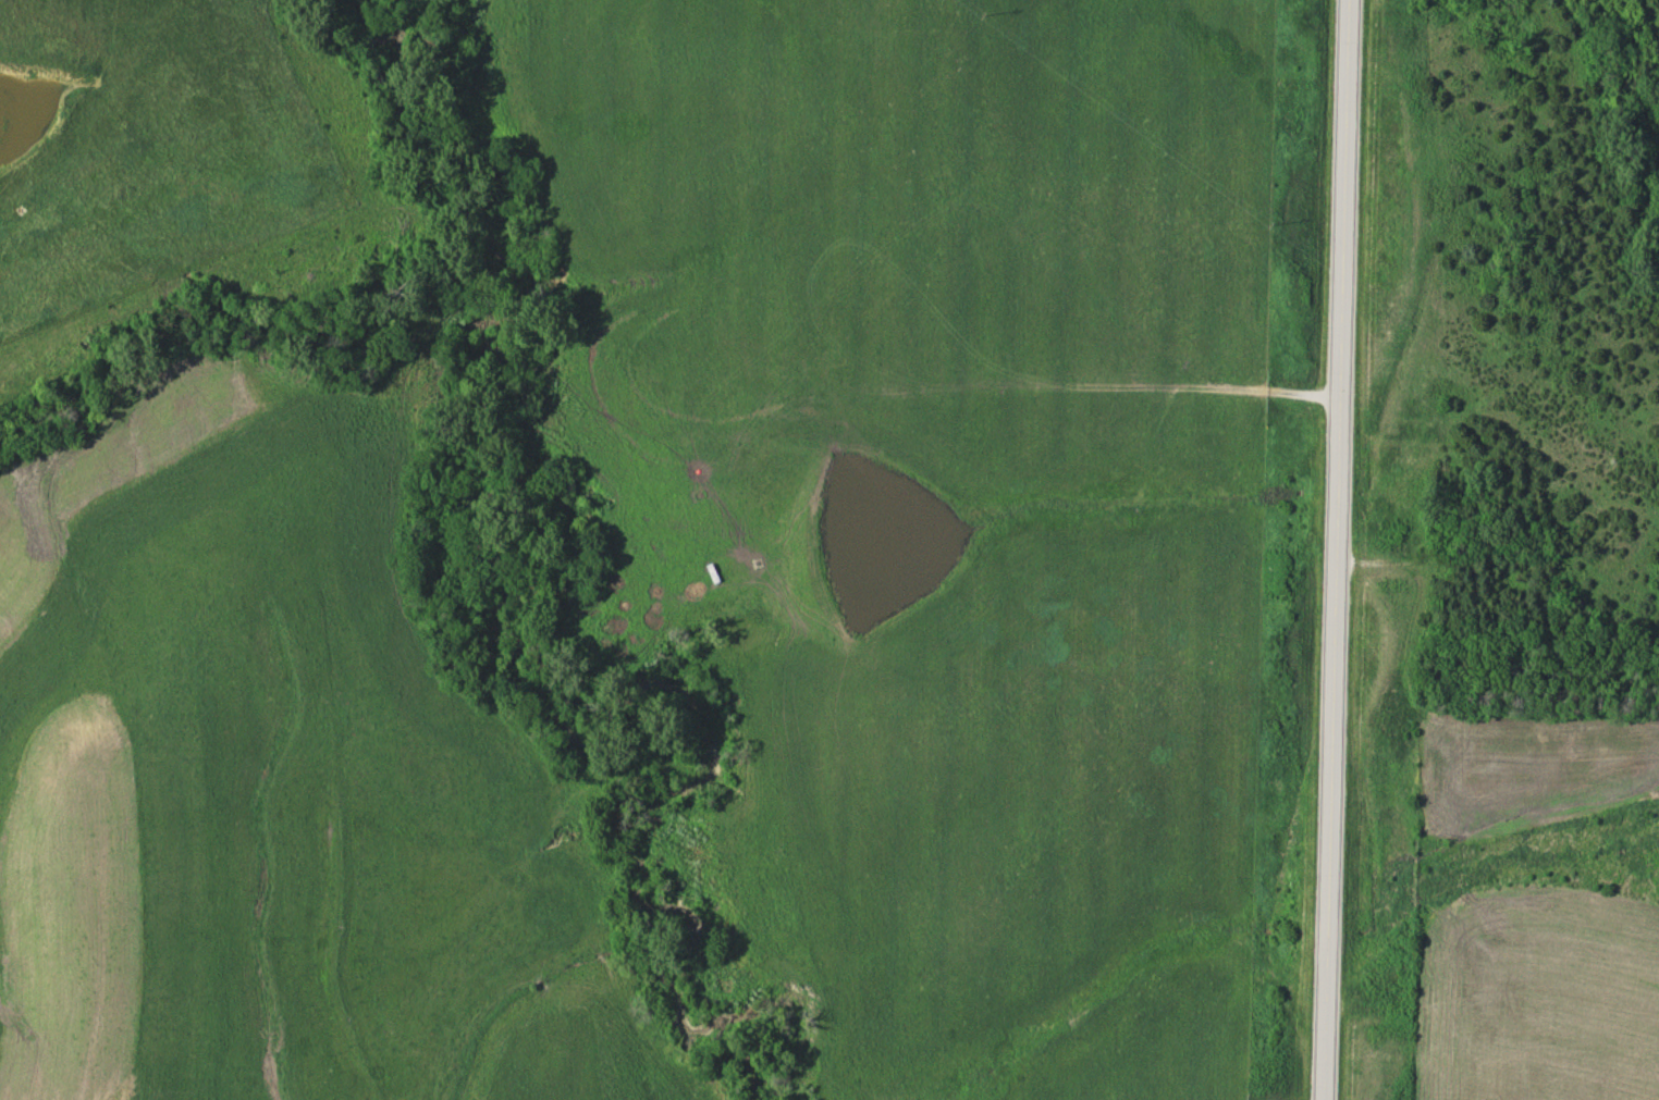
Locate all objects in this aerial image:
road: (1337, 549)

